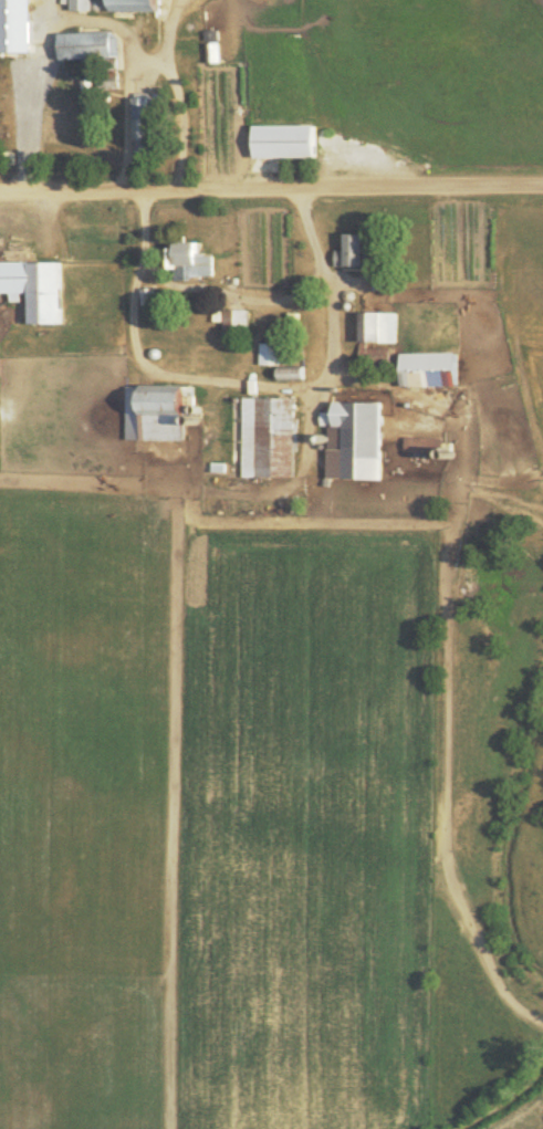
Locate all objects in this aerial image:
building: (80, 3)
building: (132, 4)
building: (13, 24)
building: (86, 42)
building: (211, 44)
building: (140, 122)
building: (280, 138)
road: (271, 187)
building: (347, 249)
building: (188, 259)
building: (32, 286)
building: (232, 315)
building: (375, 325)
building: (268, 352)
building: (424, 367)
building: (286, 372)
building: (154, 411)
building: (351, 438)
building: (418, 442)
building: (216, 466)

